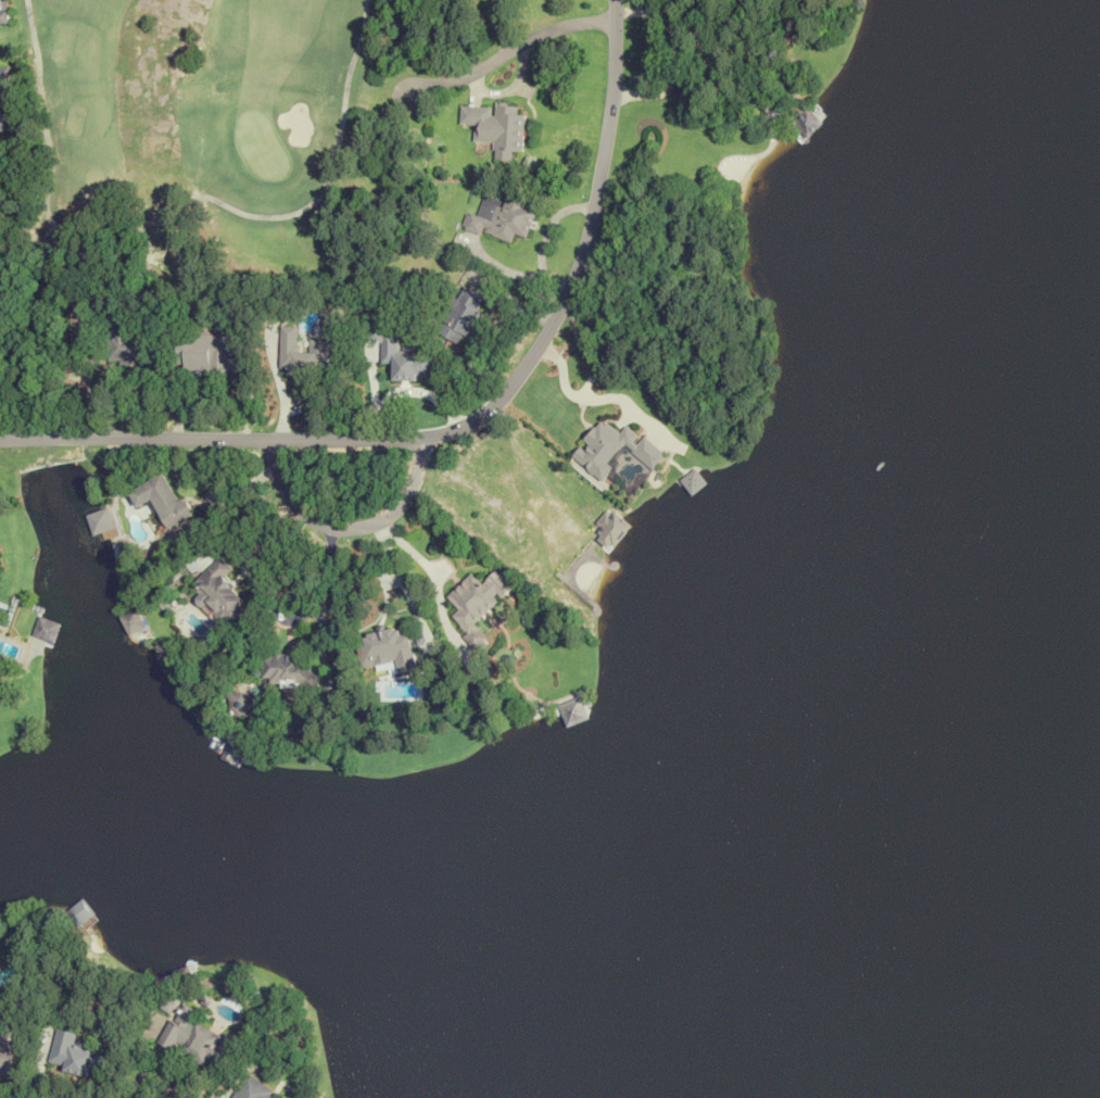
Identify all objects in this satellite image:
building: (4, 11)
road: (513, 47)
building: (4, 80)
building: (4, 115)
building: (494, 127)
building: (500, 217)
building: (462, 314)
building: (126, 341)
building: (203, 353)
building: (300, 355)
building: (404, 359)
road: (464, 422)
building: (612, 449)
building: (694, 481)
building: (162, 501)
road: (349, 527)
road: (428, 570)
road: (400, 577)
road: (319, 579)
building: (220, 592)
building: (478, 602)
building: (132, 621)
building: (48, 629)
building: (387, 649)
building: (287, 670)
building: (573, 711)
building: (79, 913)
building: (199, 1040)
building: (77, 1056)
building: (5, 1060)
building: (252, 1090)

